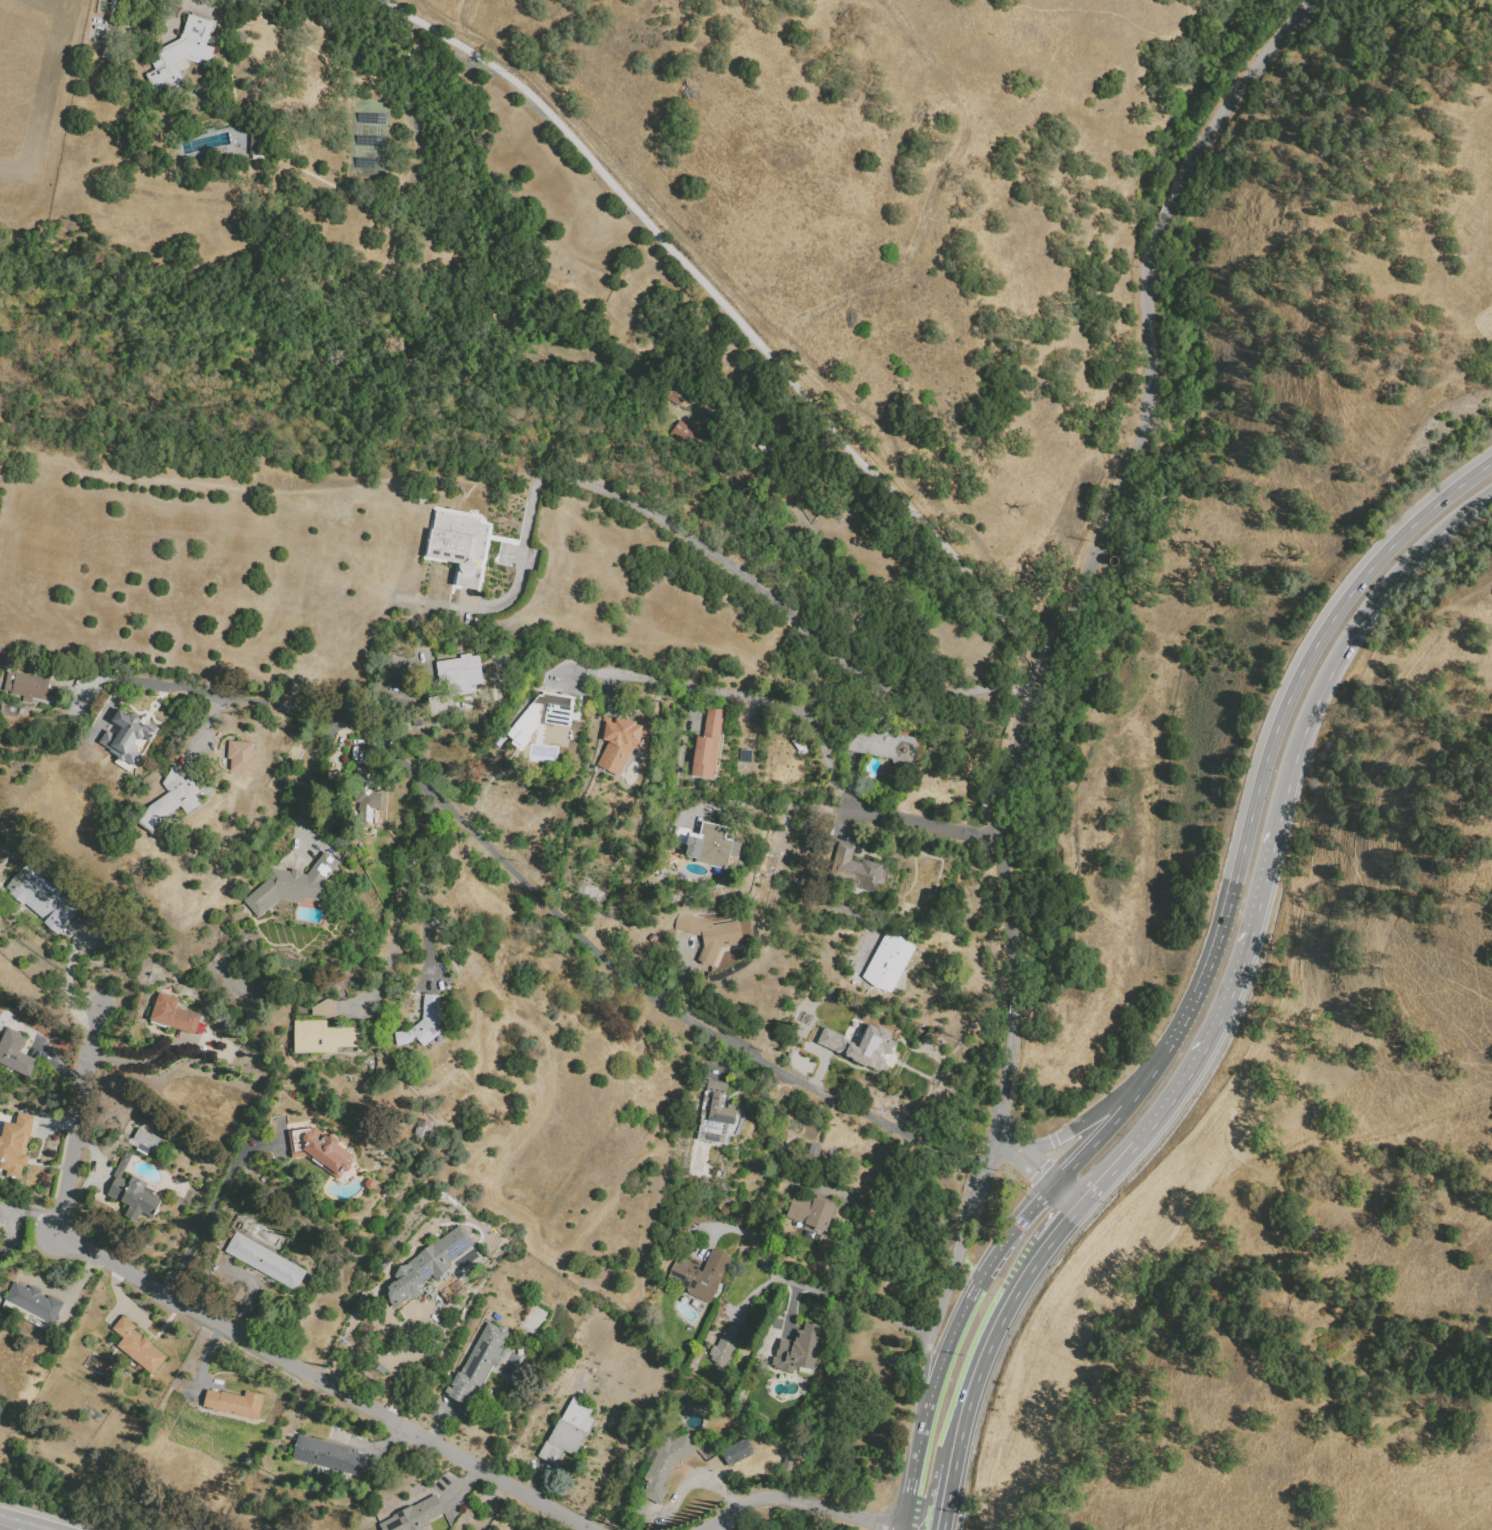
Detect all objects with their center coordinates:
road: (200, 5)
building: (185, 54)
road: (1238, 89)
road: (1166, 210)
road: (731, 314)
building: (671, 393)
road: (1147, 411)
building: (686, 436)
building: (720, 471)
building: (740, 481)
road: (688, 537)
building: (458, 545)
road: (816, 554)
building: (1113, 561)
road: (1352, 641)
building: (1, 654)
road: (403, 660)
building: (459, 674)
road: (93, 678)
building: (26, 686)
road: (611, 691)
road: (735, 697)
road: (1288, 700)
building: (440, 704)
road: (108, 707)
road: (696, 709)
building: (543, 715)
building: (417, 719)
road: (205, 731)
building: (126, 736)
building: (618, 742)
road: (339, 743)
building: (797, 744)
road: (357, 745)
building: (707, 745)
building: (884, 746)
building: (241, 755)
building: (744, 755)
road: (306, 777)
road: (1007, 778)
building: (332, 779)
road: (852, 784)
building: (368, 793)
building: (175, 796)
road: (756, 804)
road: (913, 824)
road: (849, 826)
building: (707, 844)
building: (762, 863)
building: (854, 869)
road: (421, 877)
road: (528, 885)
building: (292, 886)
building: (41, 899)
road: (809, 903)
road: (401, 905)
building: (709, 934)
building: (650, 937)
road: (1248, 945)
building: (887, 962)
road: (685, 979)
road: (67, 984)
building: (323, 1006)
road: (1014, 1008)
building: (175, 1017)
building: (423, 1023)
building: (227, 1024)
road: (1173, 1036)
building: (327, 1038)
building: (859, 1045)
building: (16, 1052)
road: (157, 1053)
road: (722, 1058)
road: (822, 1062)
road: (59, 1063)
road: (1005, 1081)
building: (715, 1112)
road: (55, 1124)
road: (1082, 1126)
road: (1106, 1128)
road: (1147, 1137)
building: (147, 1139)
road: (926, 1144)
building: (15, 1145)
building: (321, 1150)
building: (812, 1150)
road: (958, 1160)
road: (1025, 1160)
road: (88, 1178)
building: (370, 1184)
building: (133, 1193)
road: (1067, 1197)
road: (884, 1199)
road: (215, 1206)
building: (811, 1211)
road: (6, 1212)
road: (1017, 1224)
road: (710, 1226)
road: (1066, 1227)
building: (813, 1235)
road: (961, 1245)
road: (976, 1254)
building: (266, 1261)
building: (426, 1266)
building: (700, 1275)
road: (55, 1288)
road: (817, 1288)
road: (247, 1291)
road: (750, 1294)
road: (118, 1299)
road: (850, 1300)
building: (33, 1302)
road: (791, 1309)
road: (892, 1319)
road: (220, 1325)
building: (138, 1346)
building: (724, 1346)
road: (952, 1346)
road: (988, 1347)
building: (799, 1350)
road: (203, 1358)
road: (404, 1359)
building: (478, 1363)
building: (108, 1368)
building: (380, 1368)
building: (101, 1378)
road: (926, 1391)
building: (235, 1402)
road: (439, 1423)
building: (568, 1431)
road: (384, 1445)
building: (735, 1450)
building: (328, 1456)
building: (788, 1460)
building: (663, 1464)
road: (916, 1477)
road: (693, 1479)
road: (536, 1481)
road: (463, 1488)
road: (942, 1495)
road: (802, 1502)
building: (415, 1516)
road: (1, 1523)
road: (9, 1527)
road: (33, 1527)
road: (907, 1529)
road: (912, 1529)

